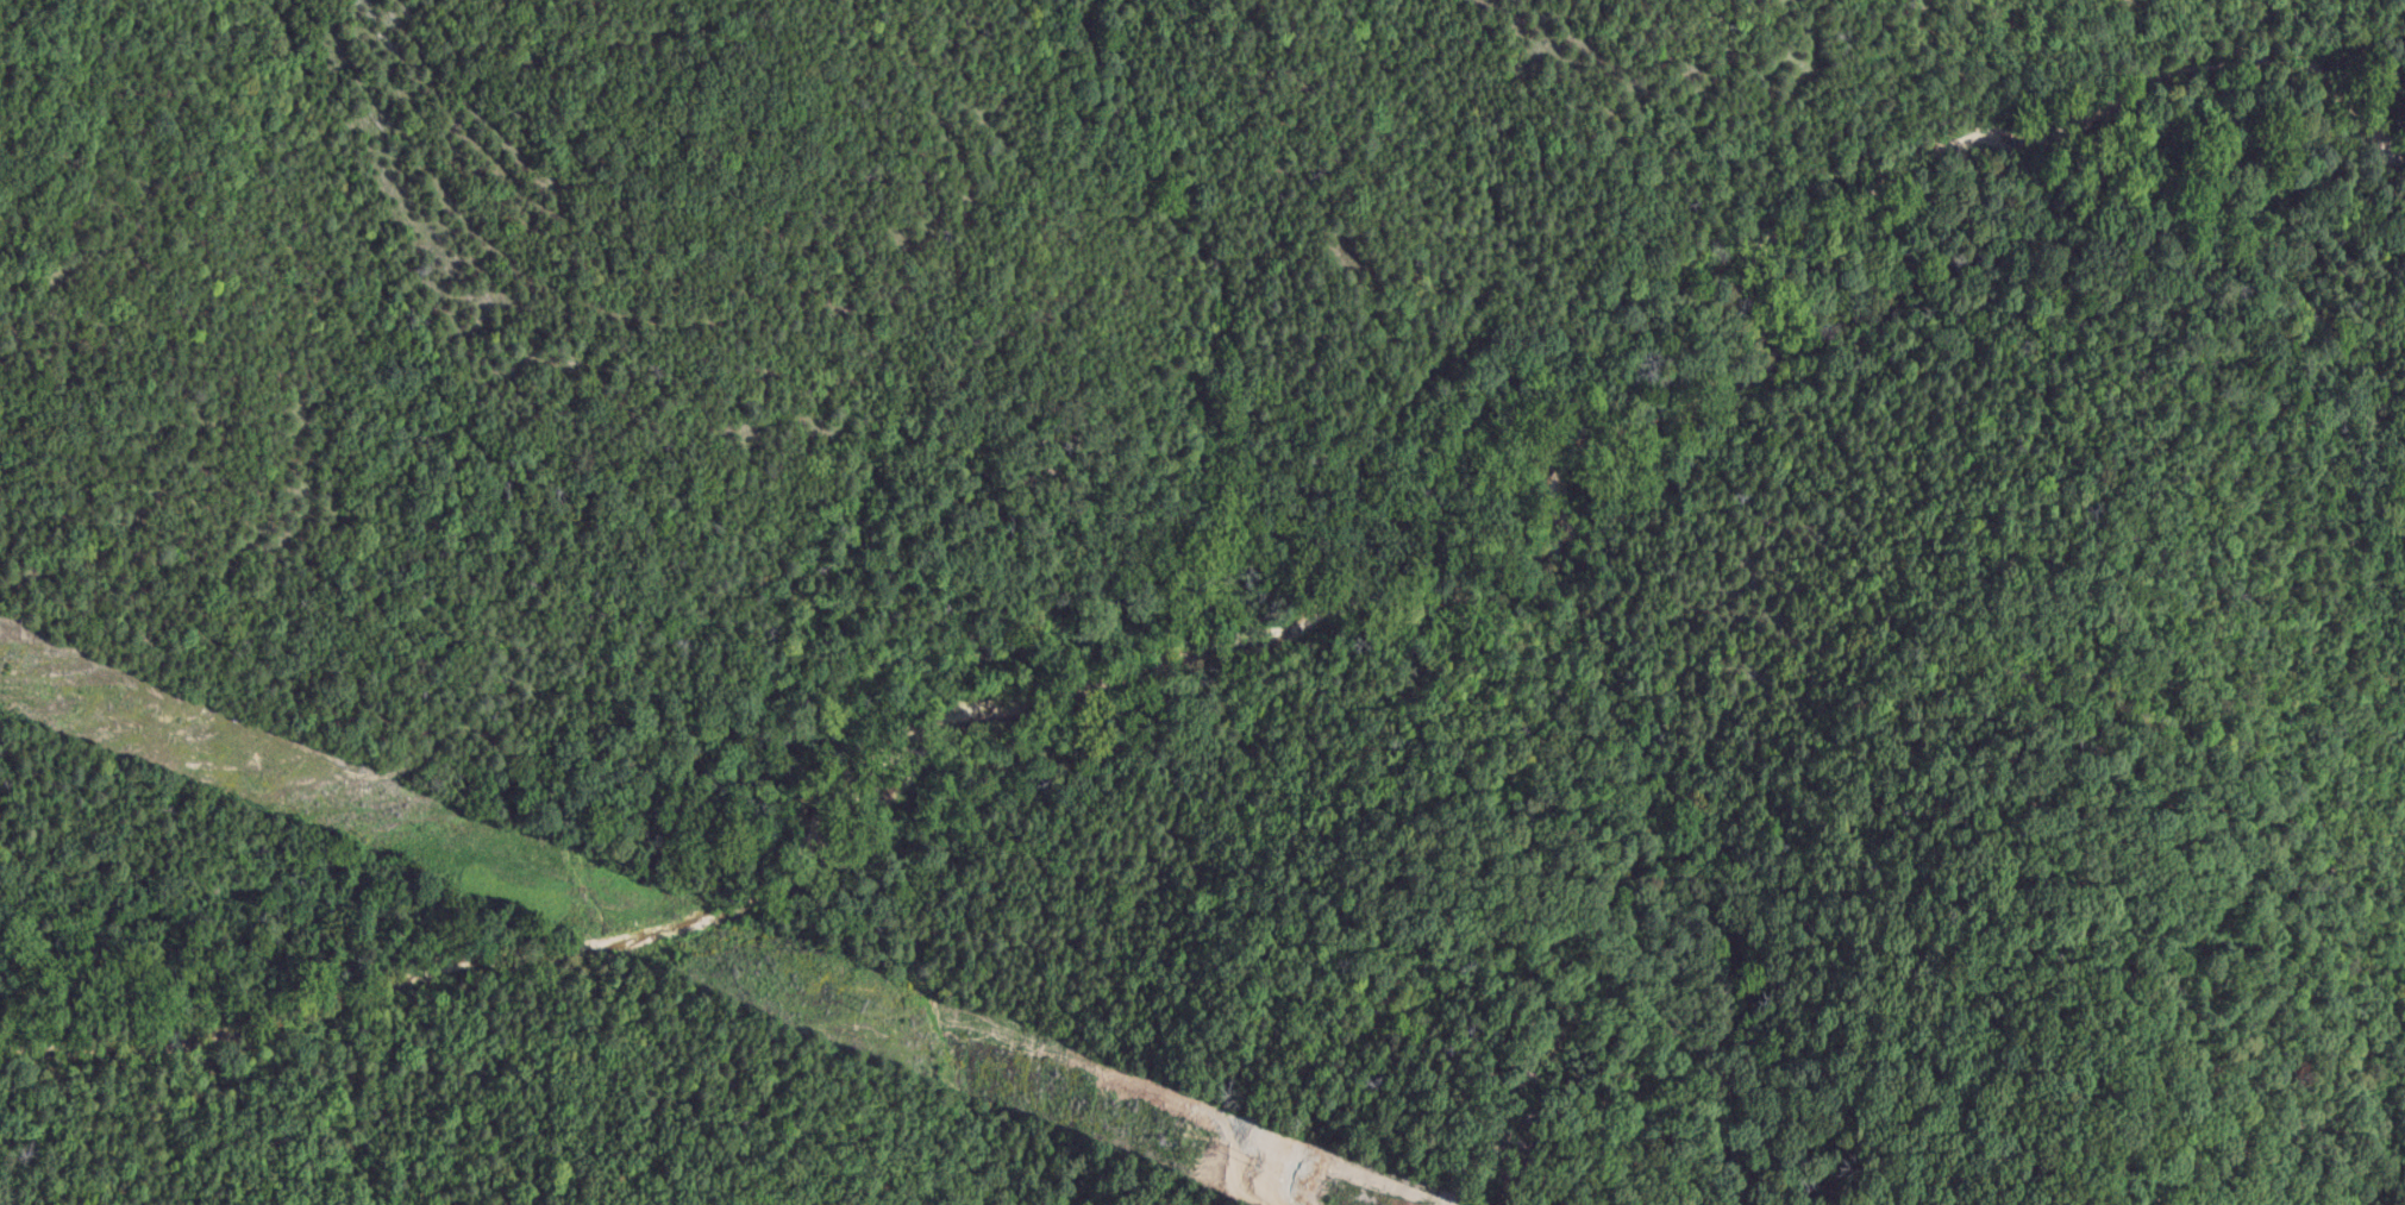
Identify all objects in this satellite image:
power tower: (0, 661)
power tower: (1255, 1161)

